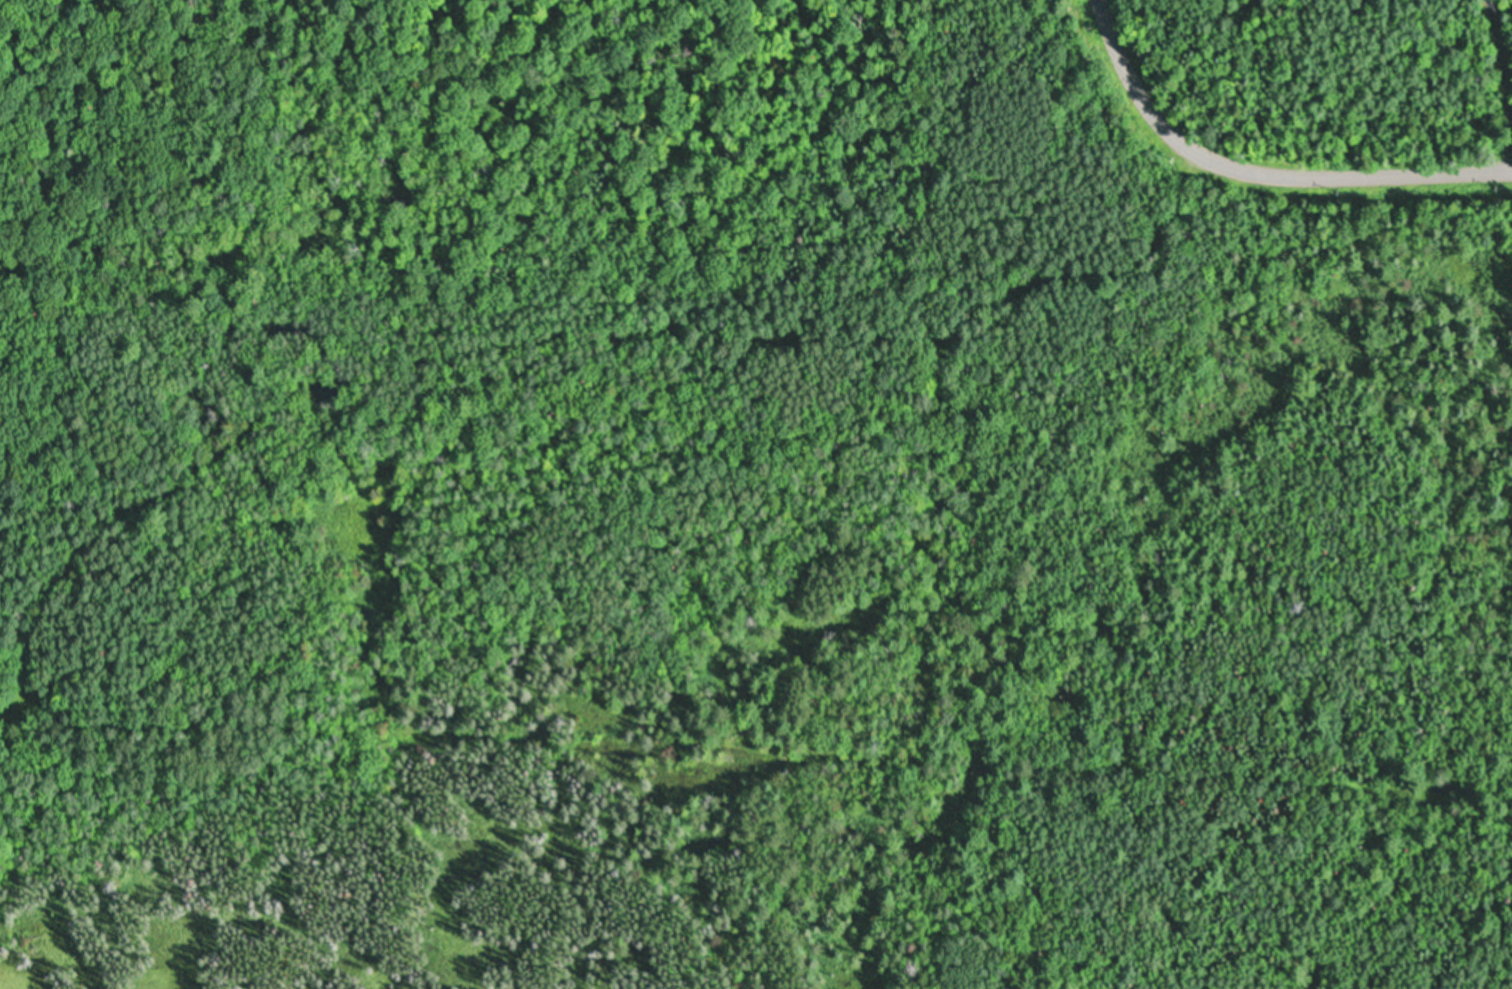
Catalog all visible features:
road: (1501, 79)
road: (1259, 165)

